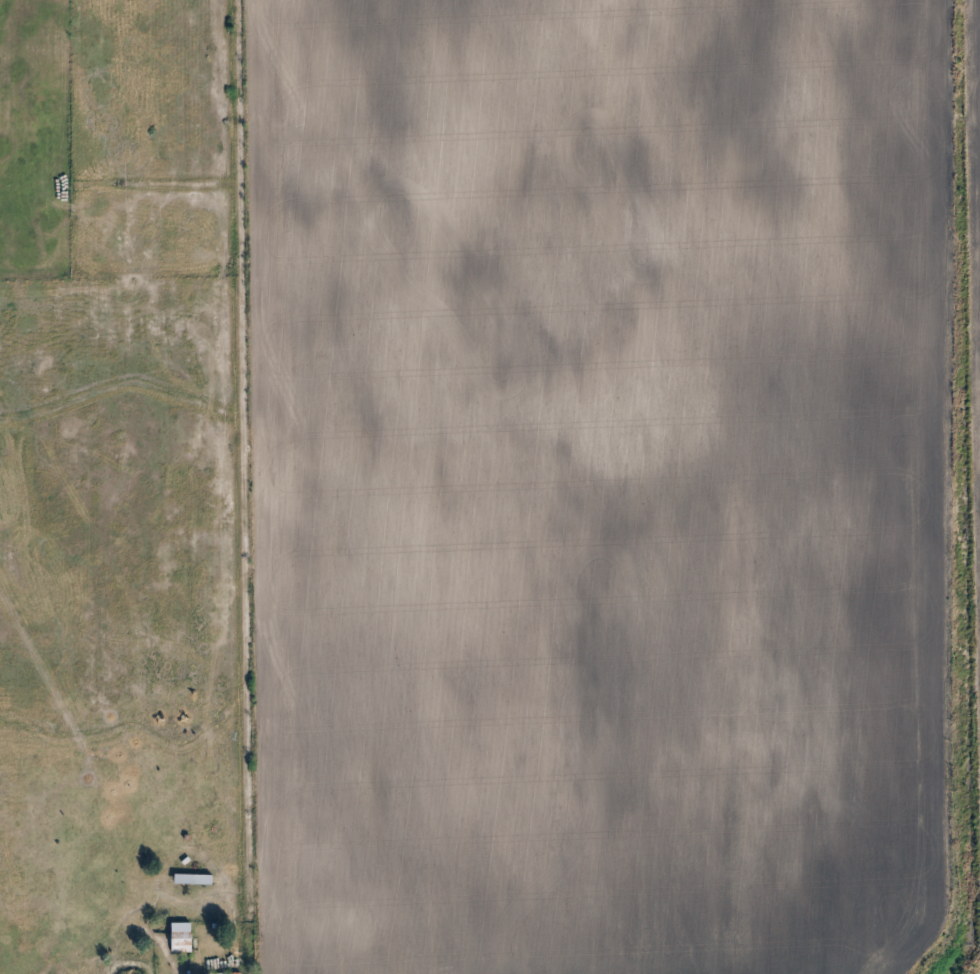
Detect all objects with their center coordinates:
building: (182, 937)
road: (166, 948)

